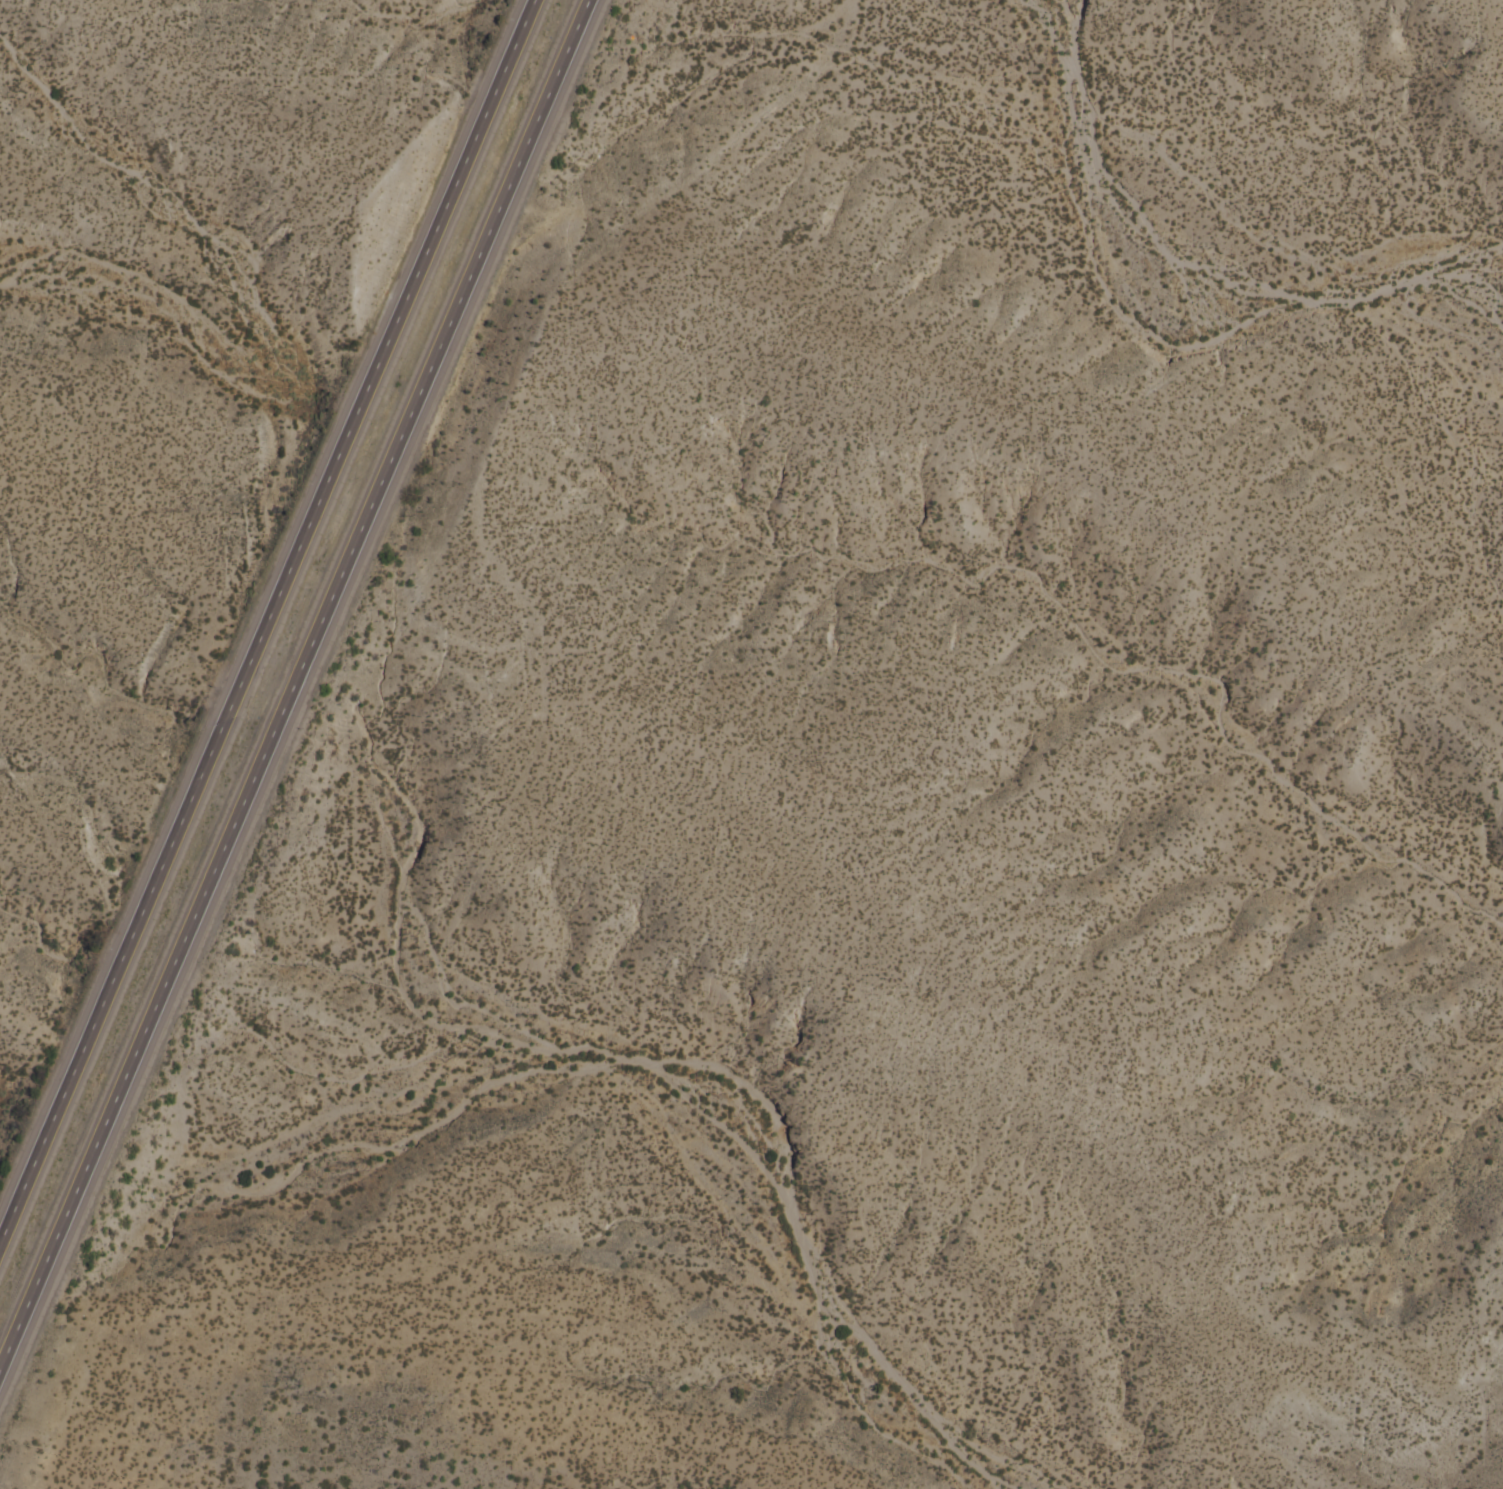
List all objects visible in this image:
road: (268, 620)
road: (295, 684)

